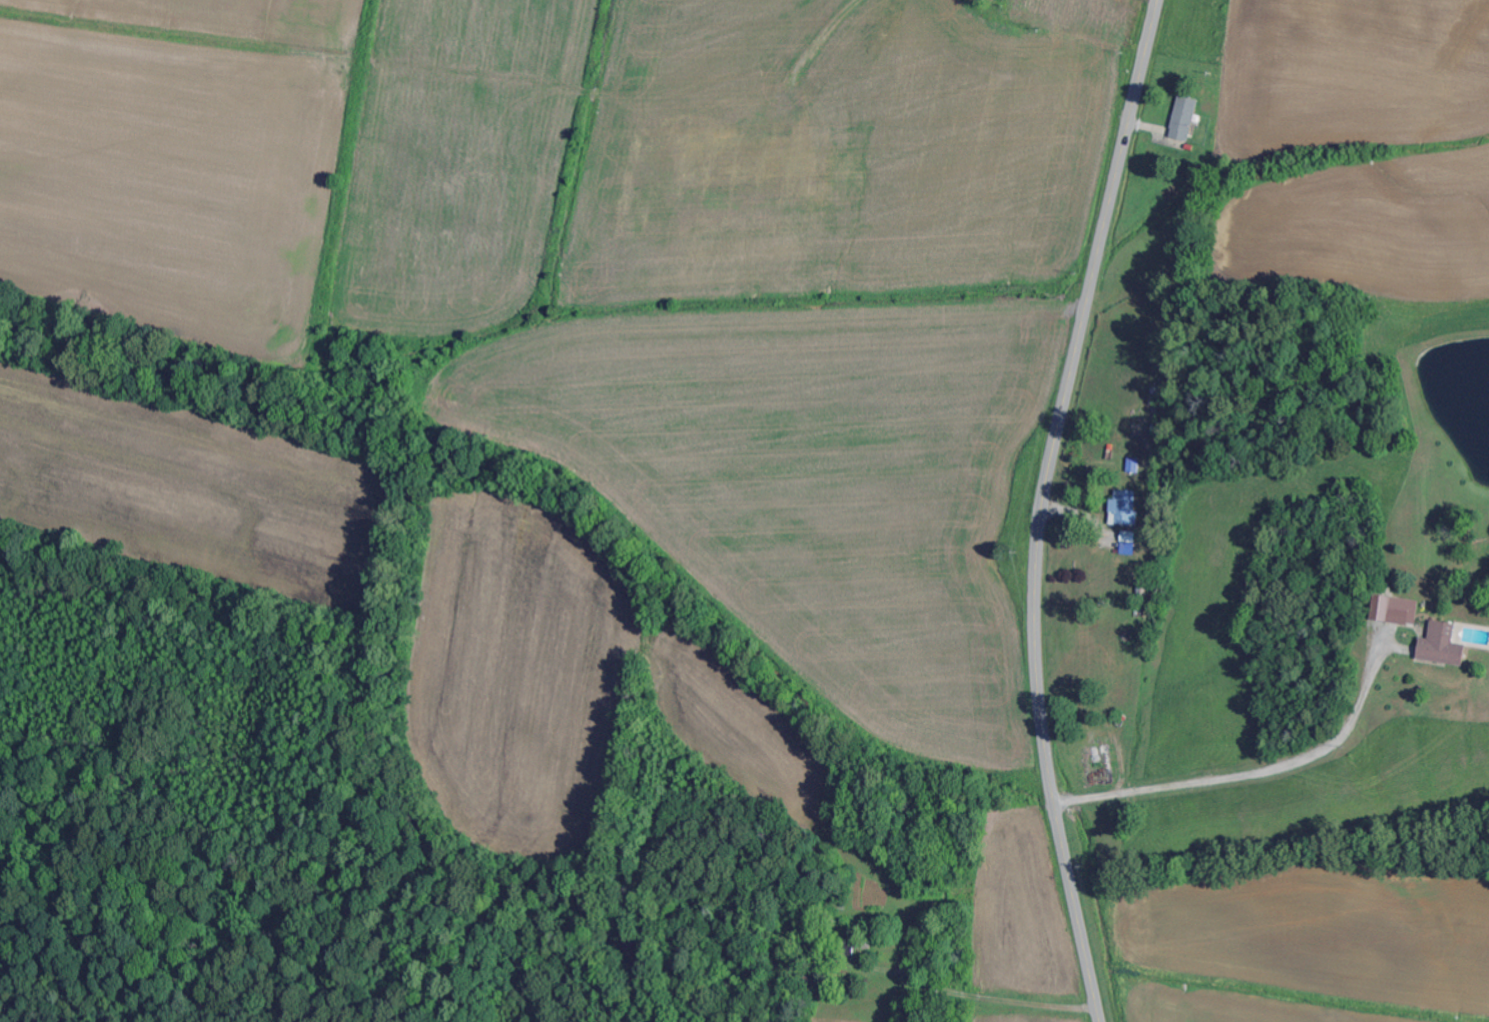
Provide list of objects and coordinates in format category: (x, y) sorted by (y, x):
building: (1186, 119)
road: (1041, 507)
building: (1125, 509)
building: (1398, 611)
building: (1445, 646)
road: (808, 948)

